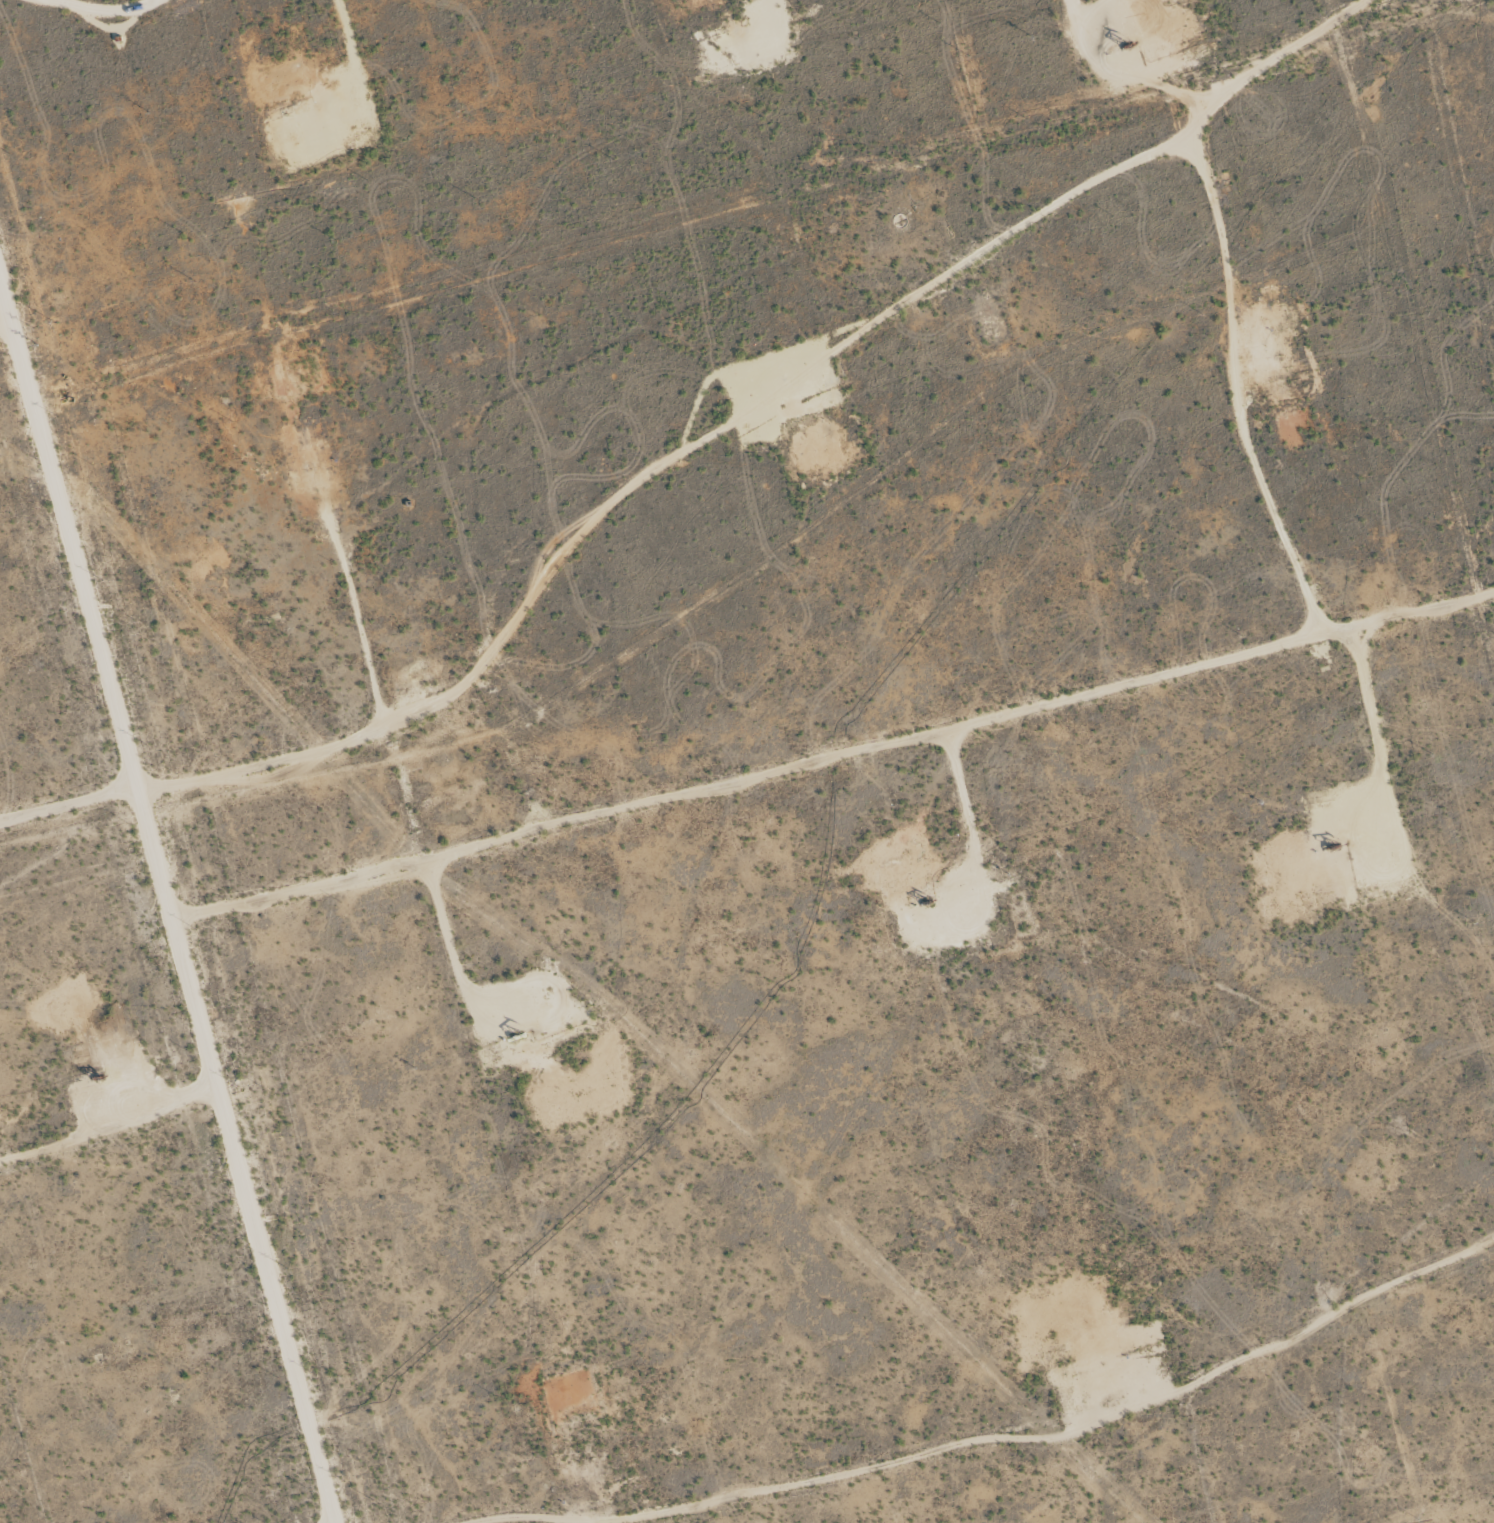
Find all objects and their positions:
road: (833, 739)
road: (169, 883)

